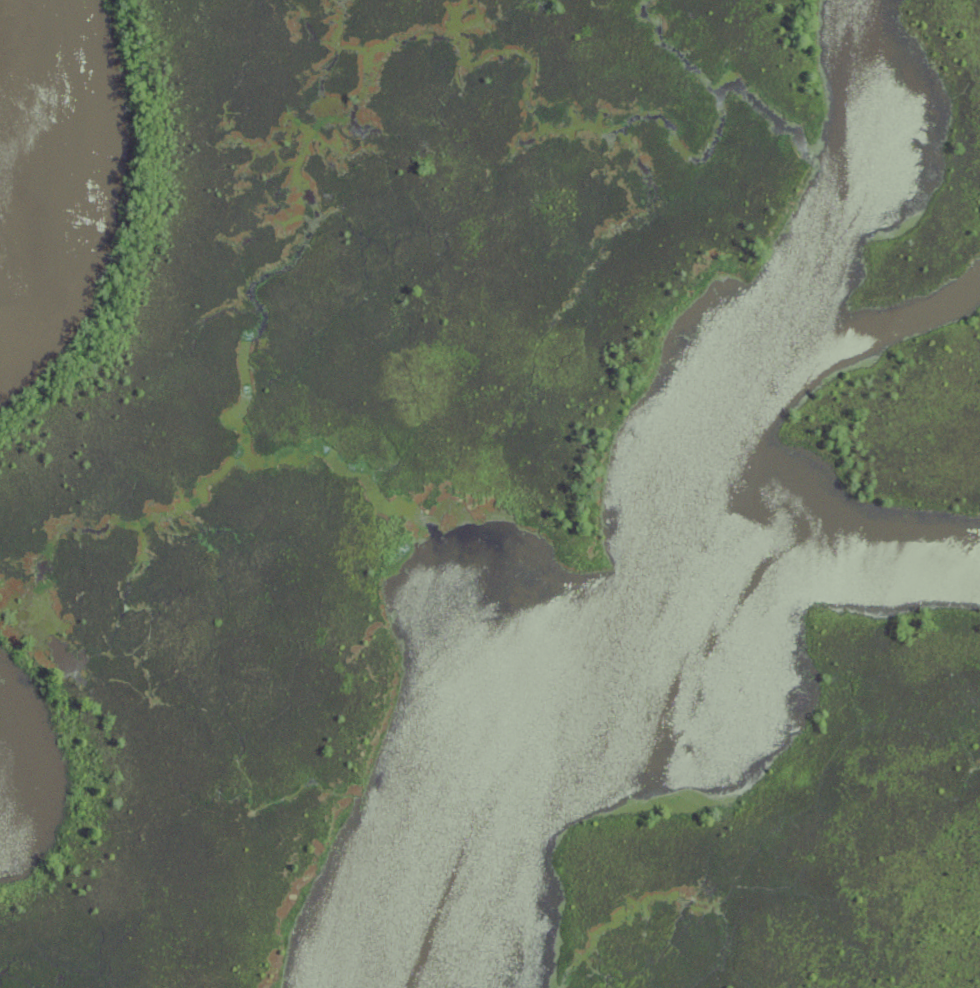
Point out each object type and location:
river: (14, 156)

